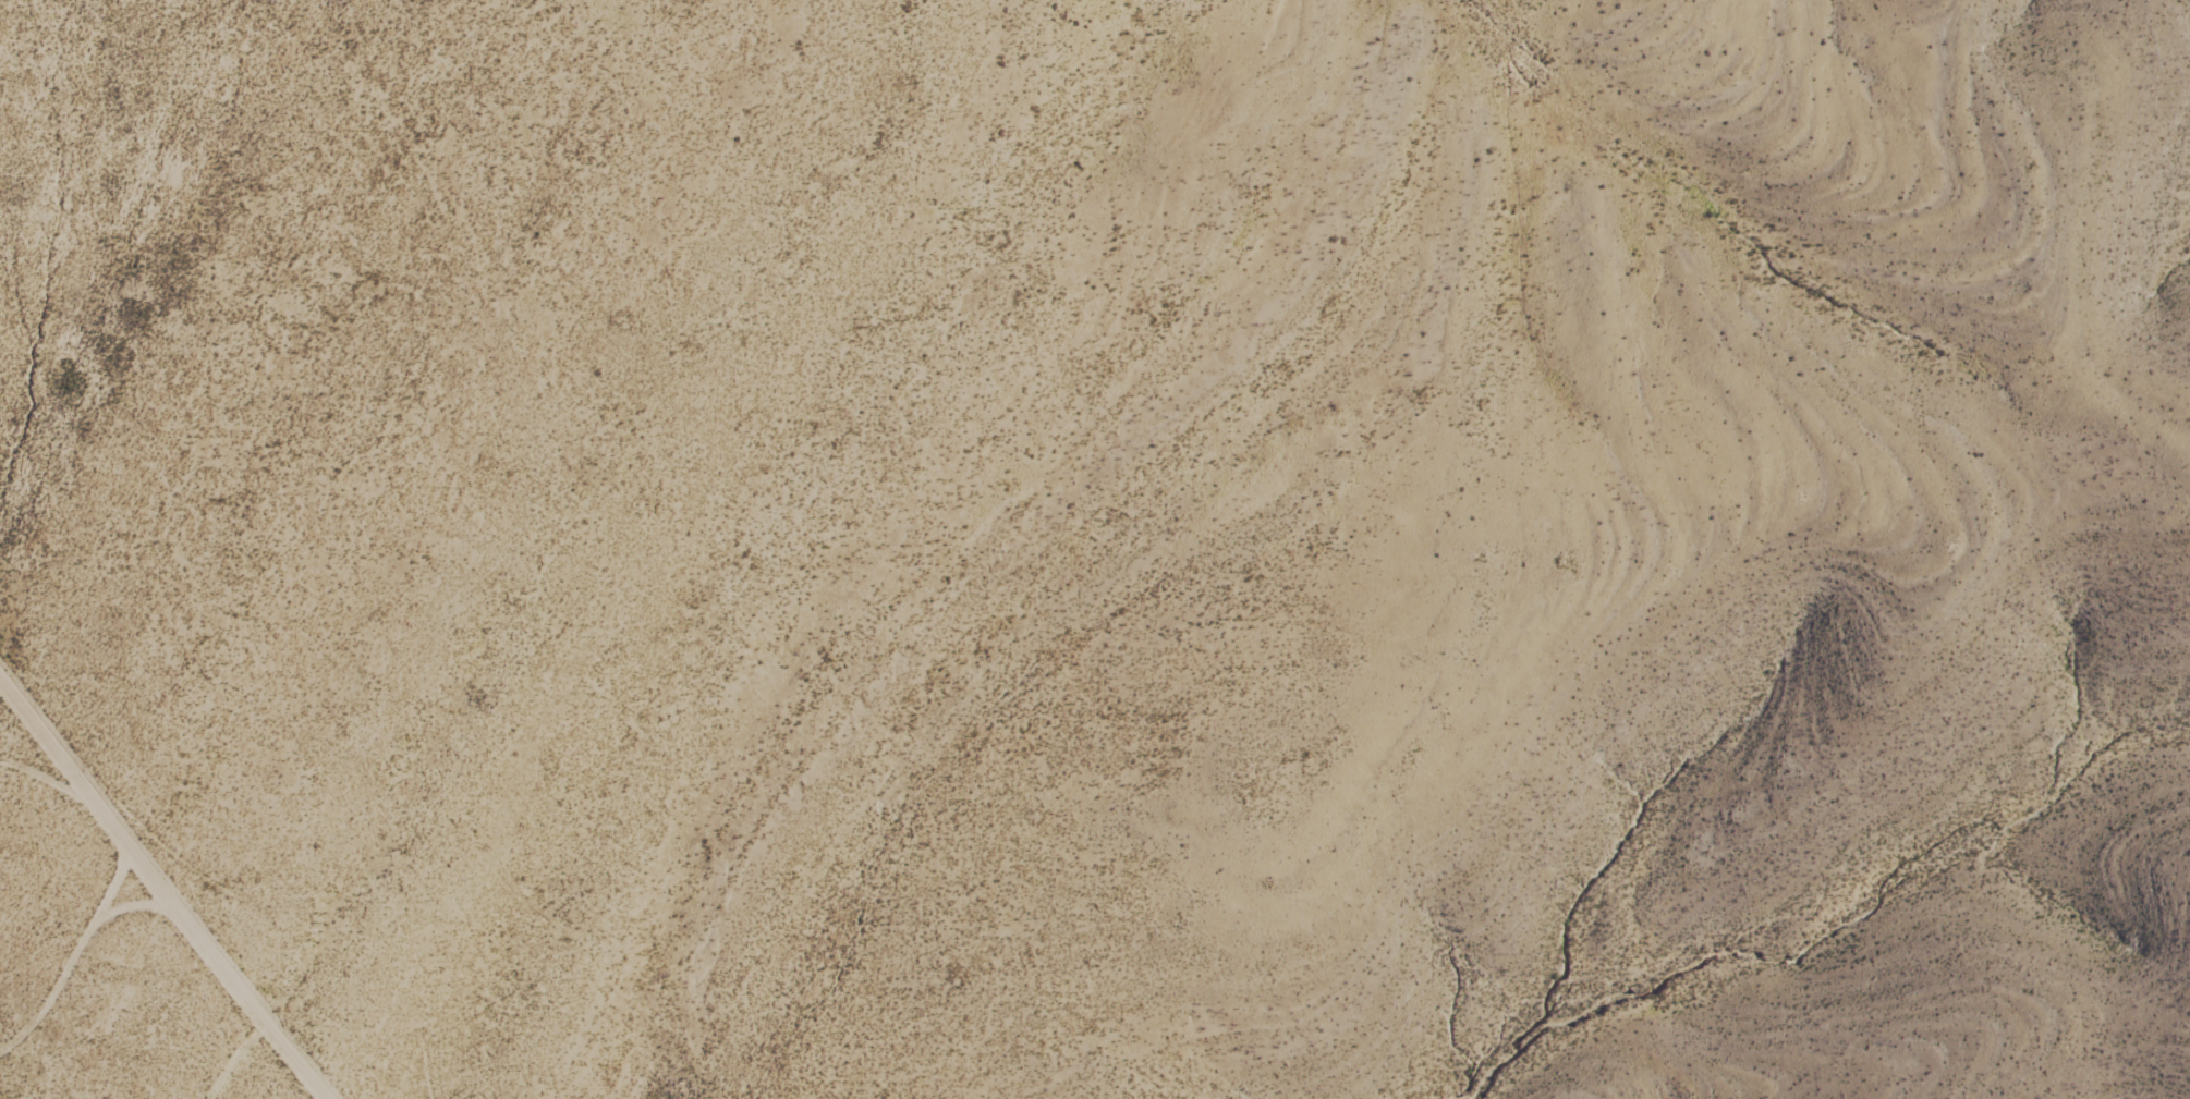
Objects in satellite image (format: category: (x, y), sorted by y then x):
road: (158, 894)

